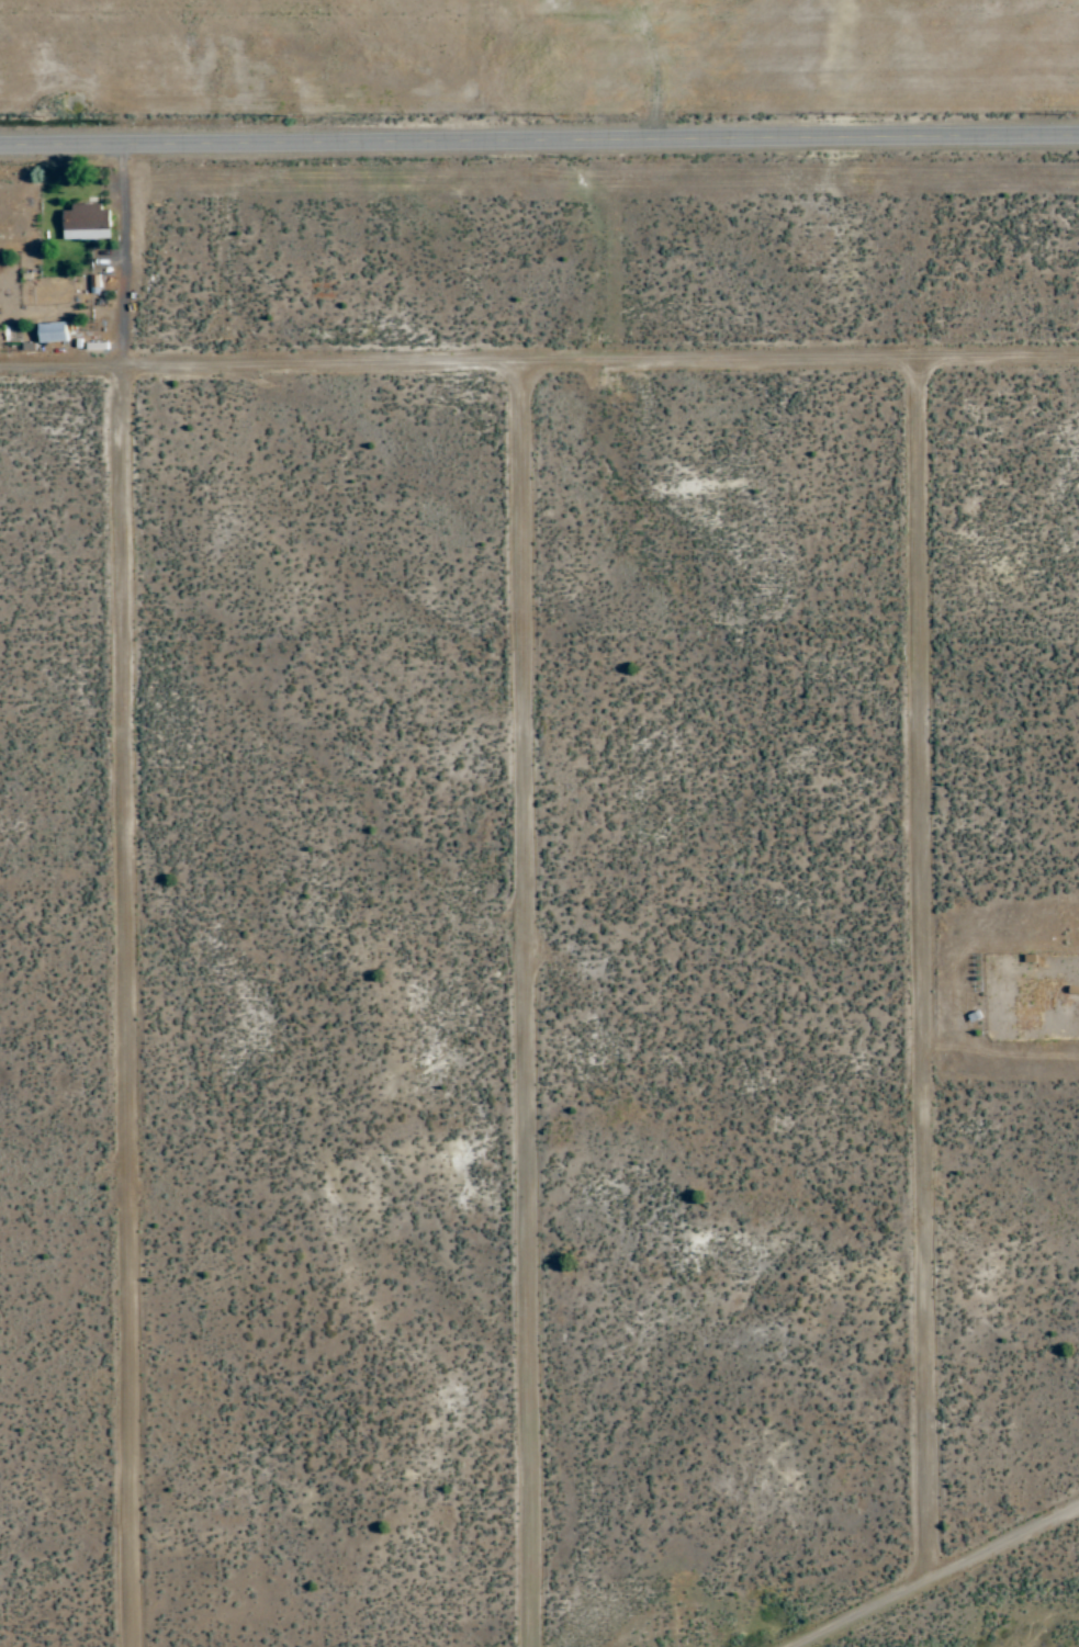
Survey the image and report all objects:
road: (539, 143)
building: (87, 223)
road: (124, 259)
building: (52, 332)
road: (539, 361)
road: (924, 972)
road: (529, 1004)
road: (132, 1008)
road: (941, 1580)

